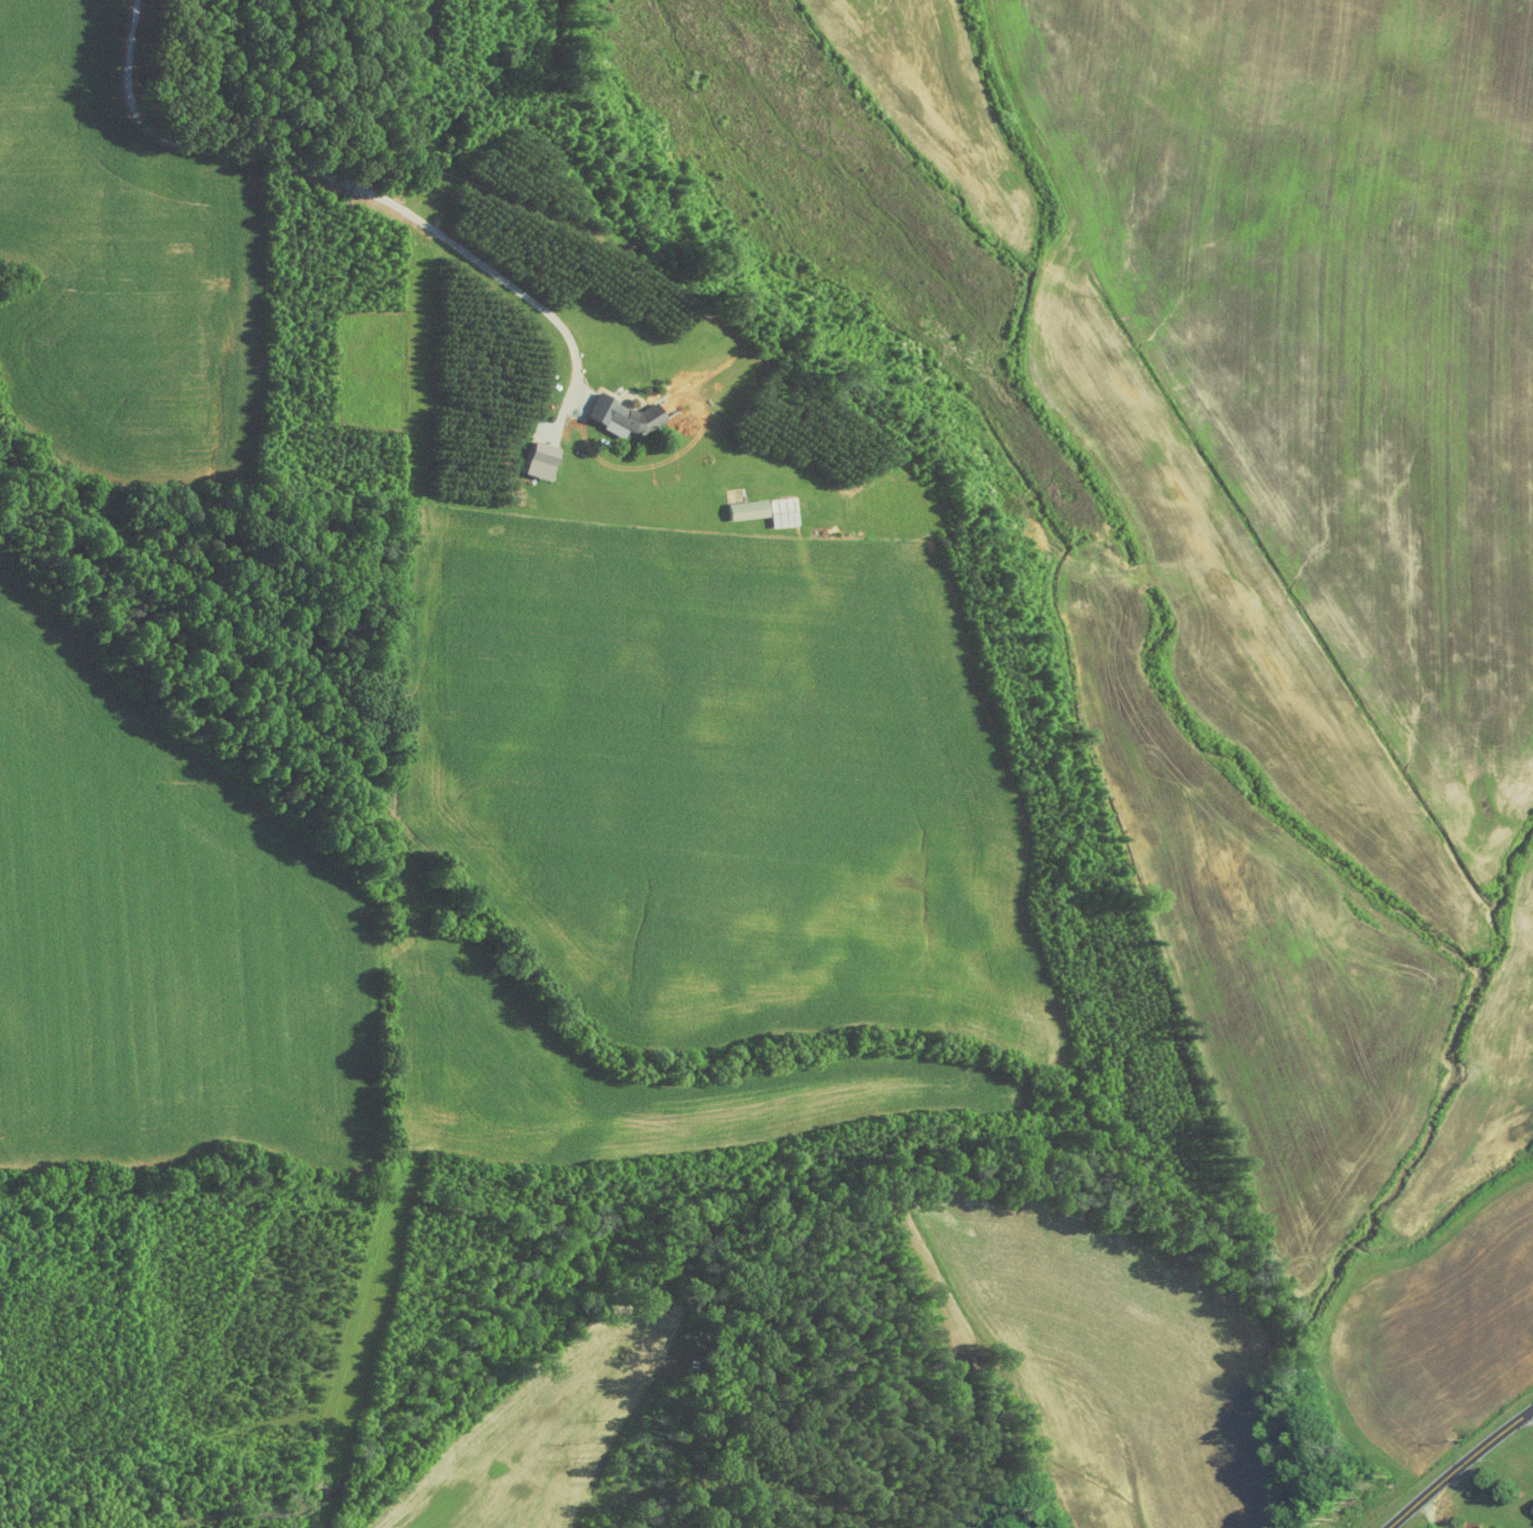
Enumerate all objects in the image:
road: (334, 180)
building: (623, 415)
building: (535, 461)
building: (760, 510)
road: (1458, 1467)
road: (1428, 1511)
building: (1531, 1511)

